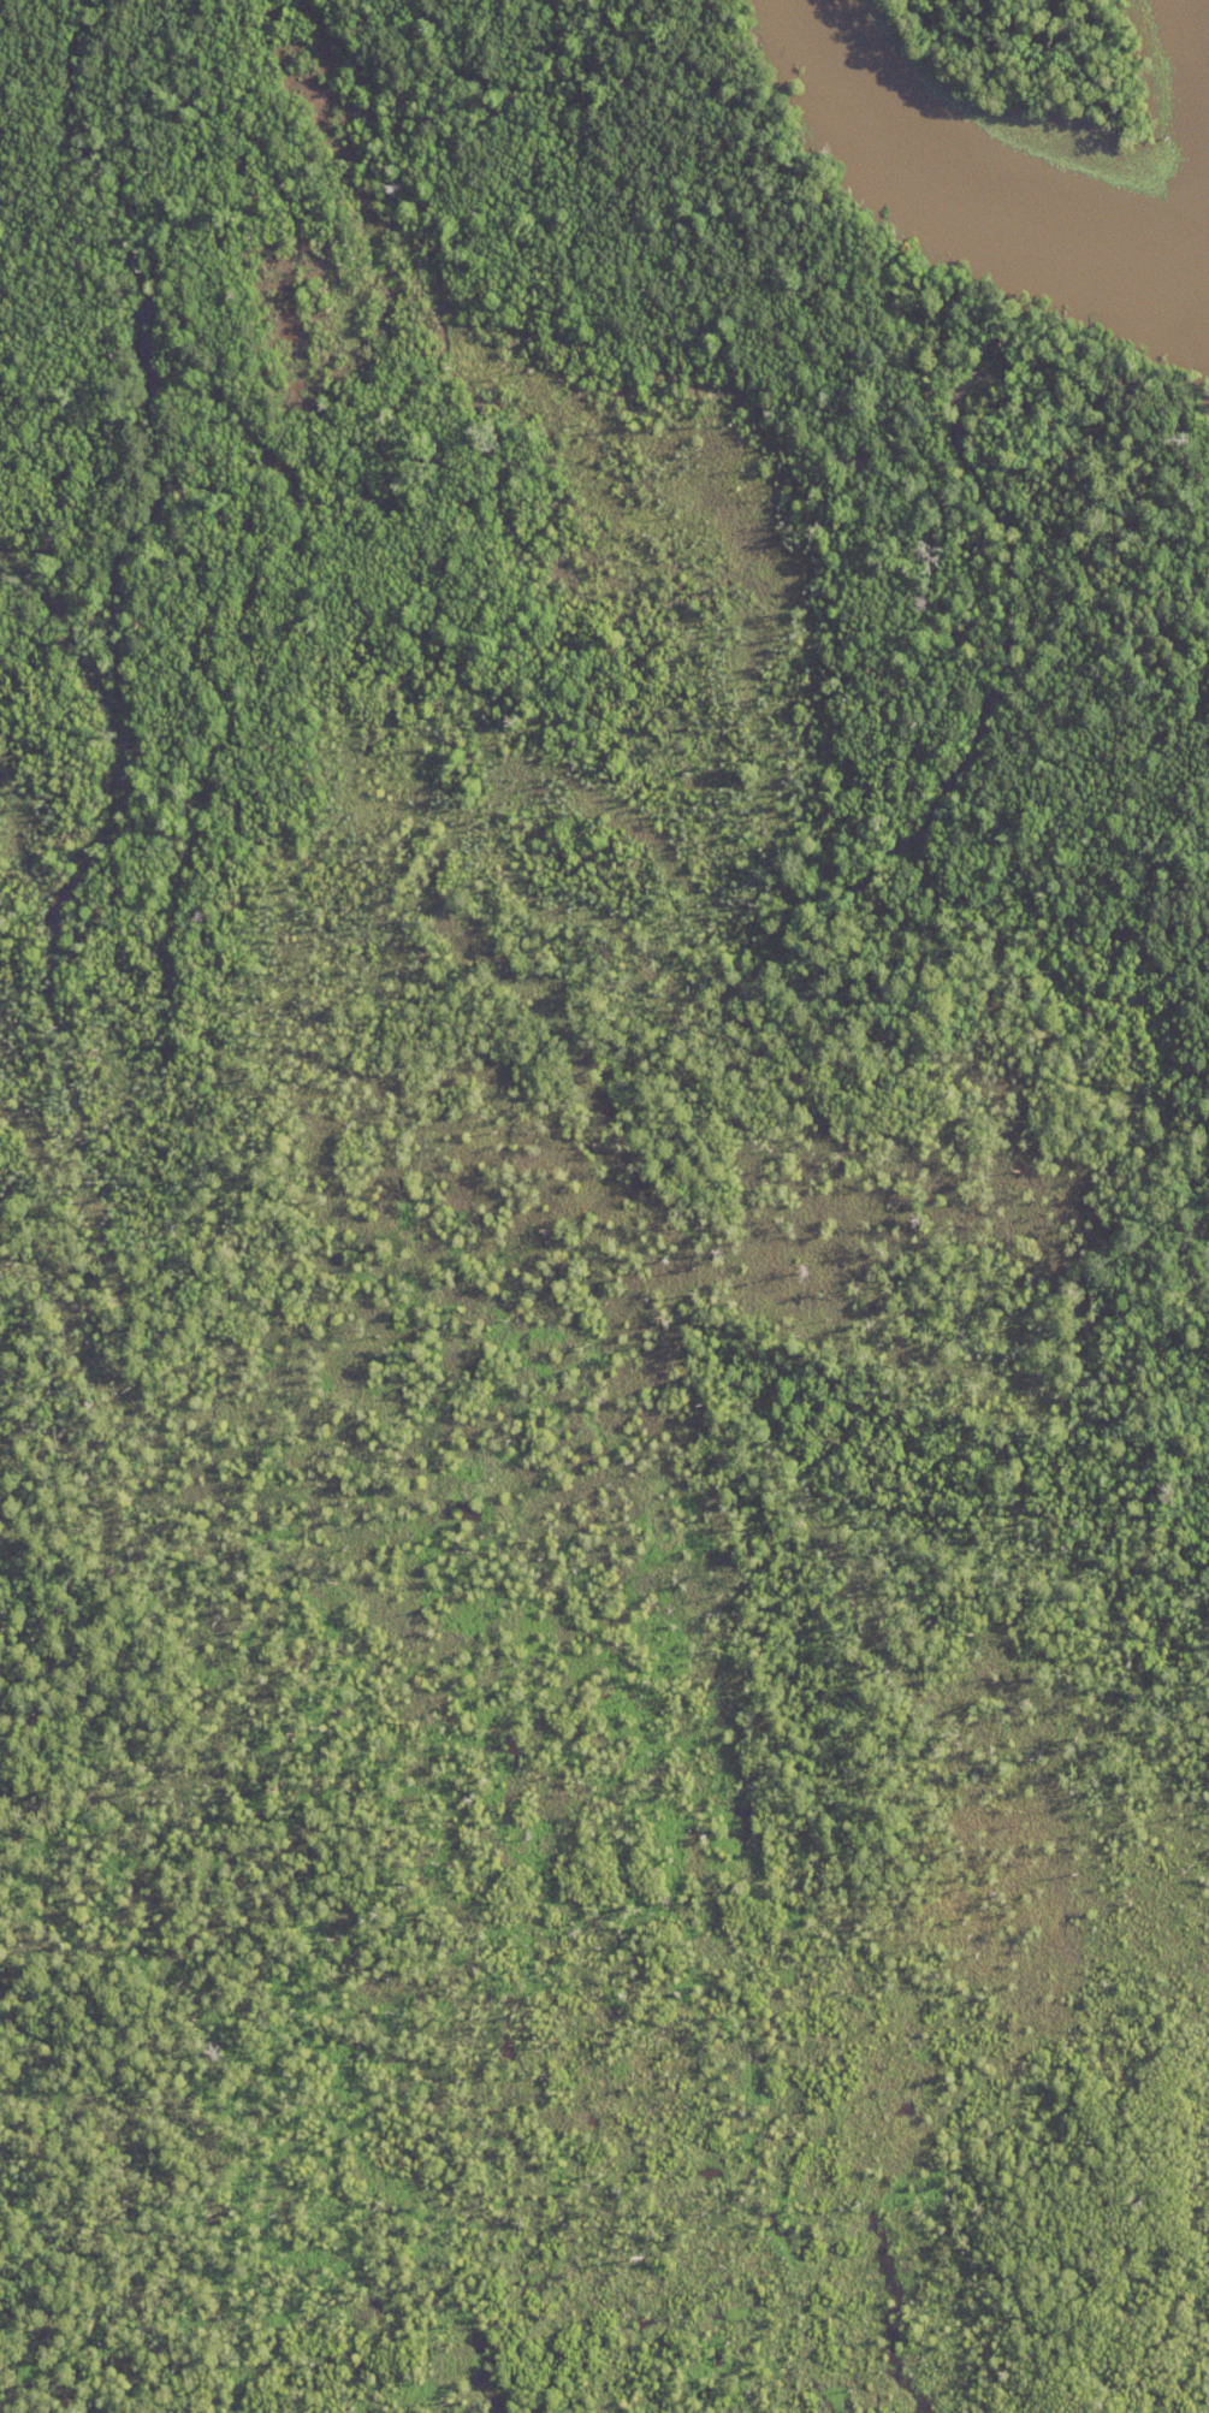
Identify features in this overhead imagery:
river: (991, 165)

